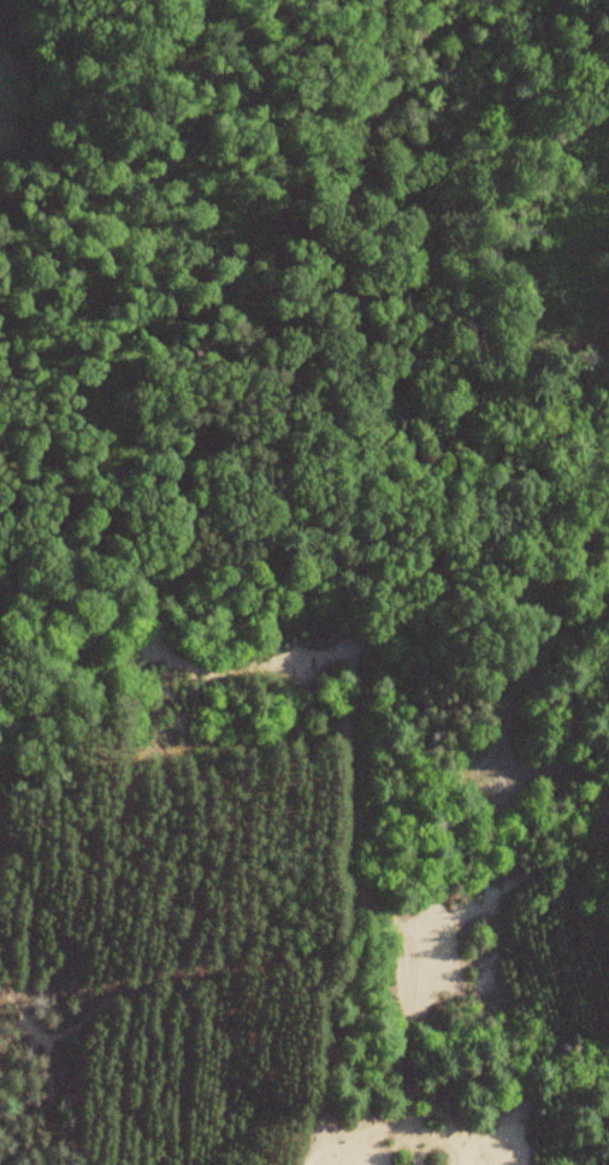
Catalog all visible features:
road: (304, 576)

